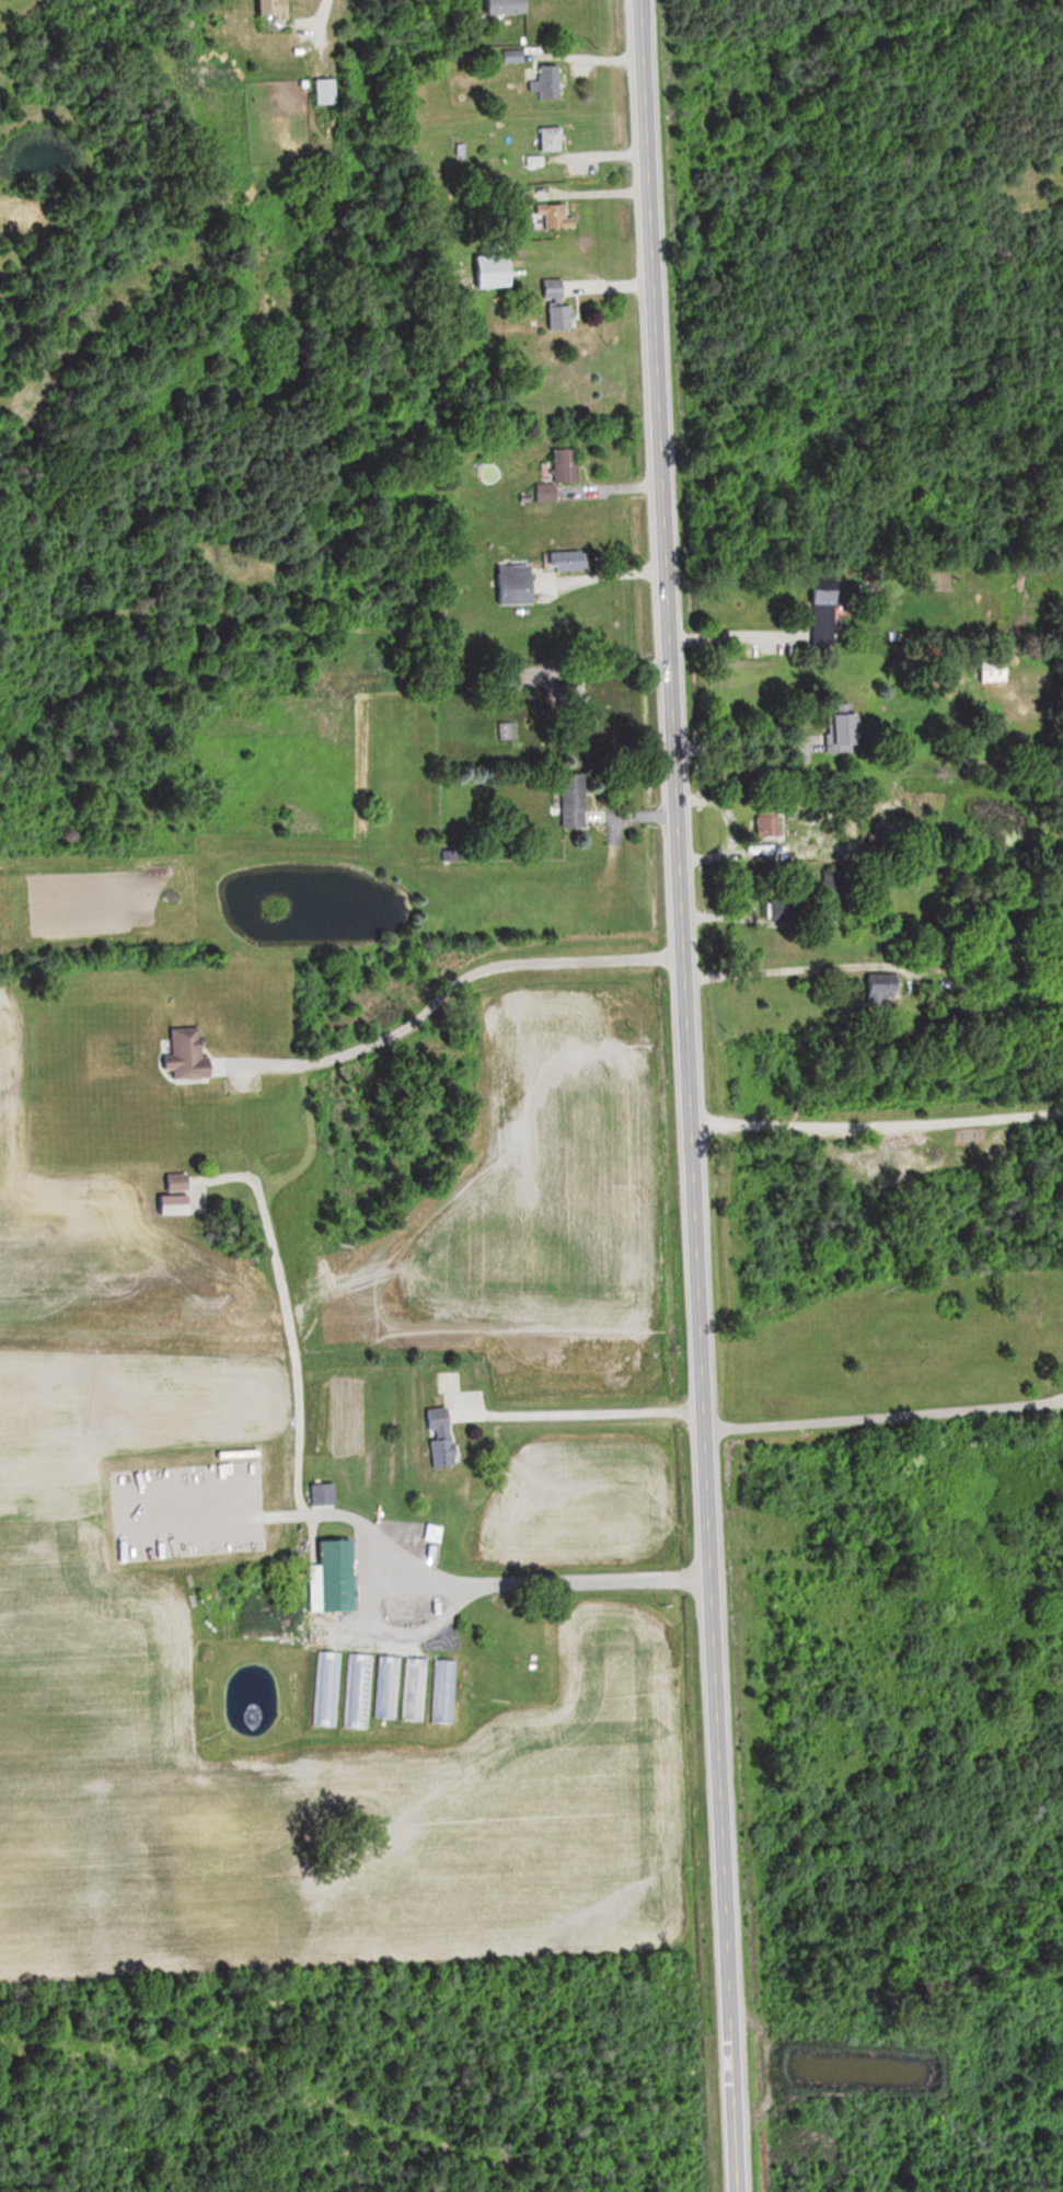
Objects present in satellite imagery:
building: (508, 7)
building: (268, 13)
building: (548, 86)
building: (326, 92)
building: (553, 139)
building: (496, 272)
building: (561, 301)
building: (568, 464)
building: (550, 492)
building: (574, 558)
building: (519, 584)
building: (816, 610)
road: (719, 635)
building: (986, 669)
building: (566, 700)
building: (834, 732)
road: (726, 747)
building: (576, 800)
building: (760, 820)
road: (712, 824)
building: (781, 909)
road: (785, 972)
road: (443, 993)
building: (189, 1054)
road: (671, 1096)
road: (868, 1129)
building: (180, 1184)
road: (582, 1416)
road: (881, 1420)
building: (443, 1438)
road: (317, 1512)
building: (419, 1553)
building: (333, 1572)
road: (383, 1629)
building: (385, 1691)
building: (324, 1693)
building: (414, 1693)
building: (356, 1694)
building: (442, 1694)

